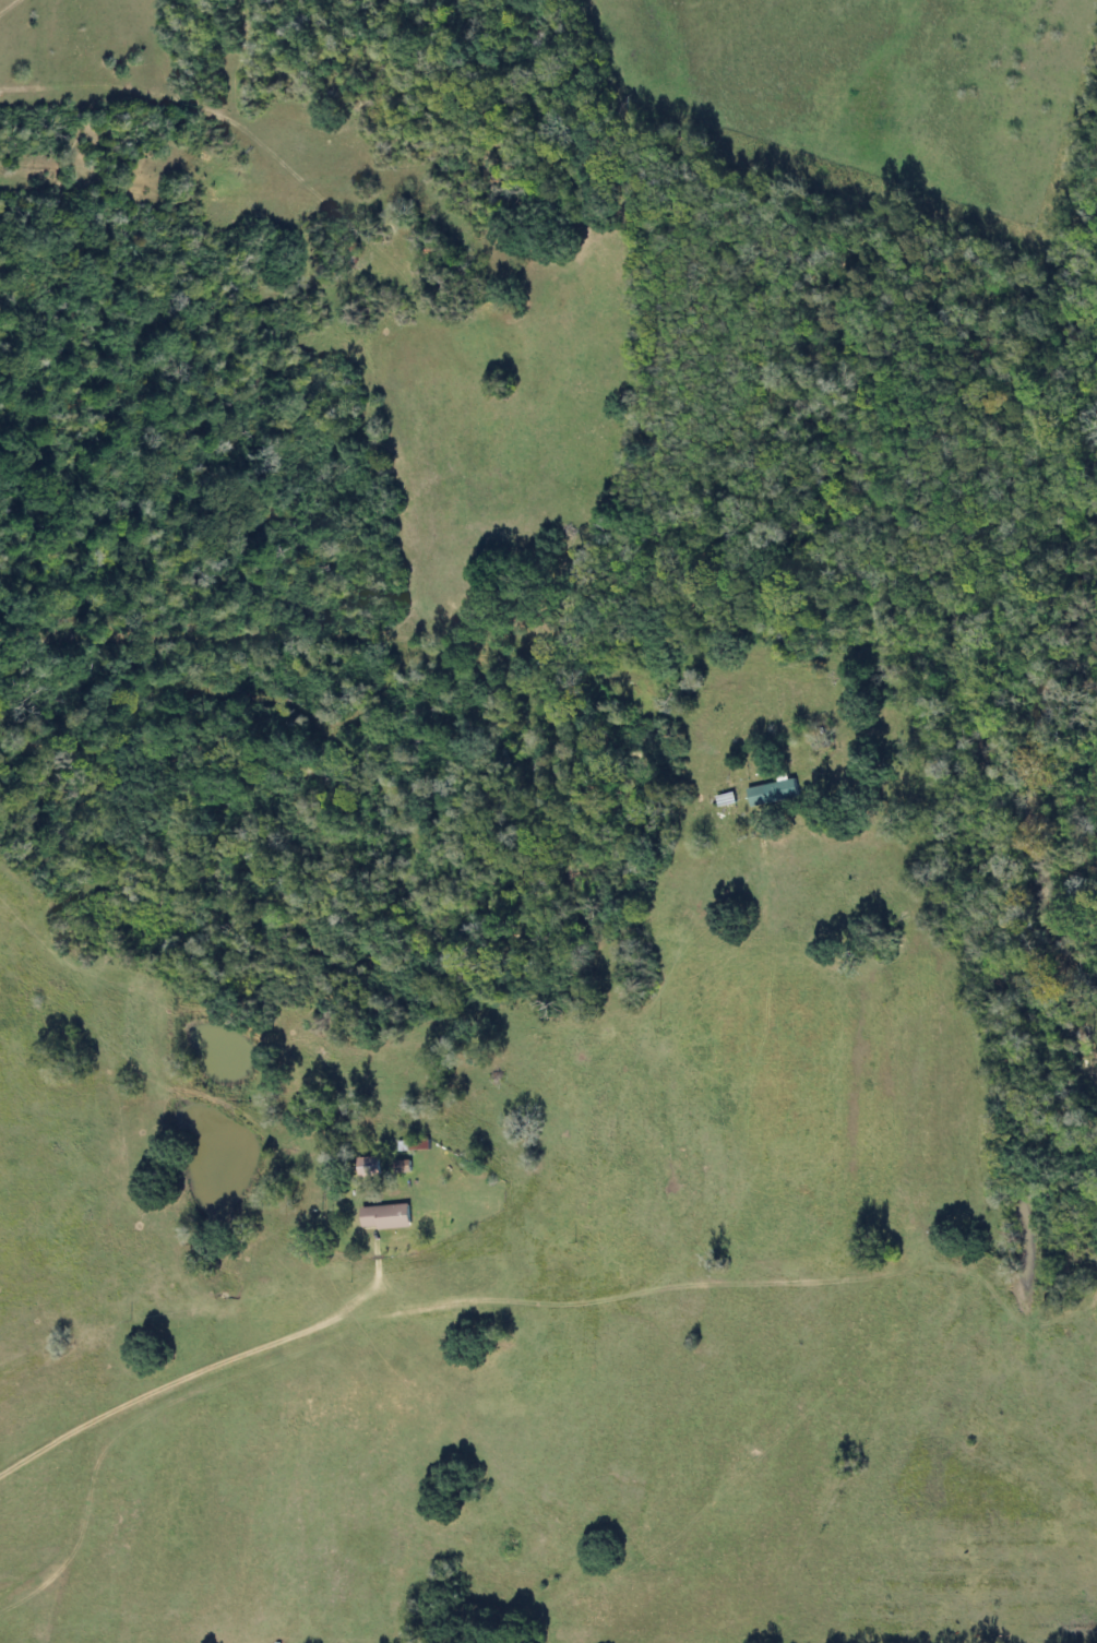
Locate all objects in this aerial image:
road: (12, 9)
road: (164, 188)
building: (771, 793)
building: (412, 1145)
building: (366, 1167)
building: (395, 1167)
building: (383, 1217)
road: (220, 1355)

